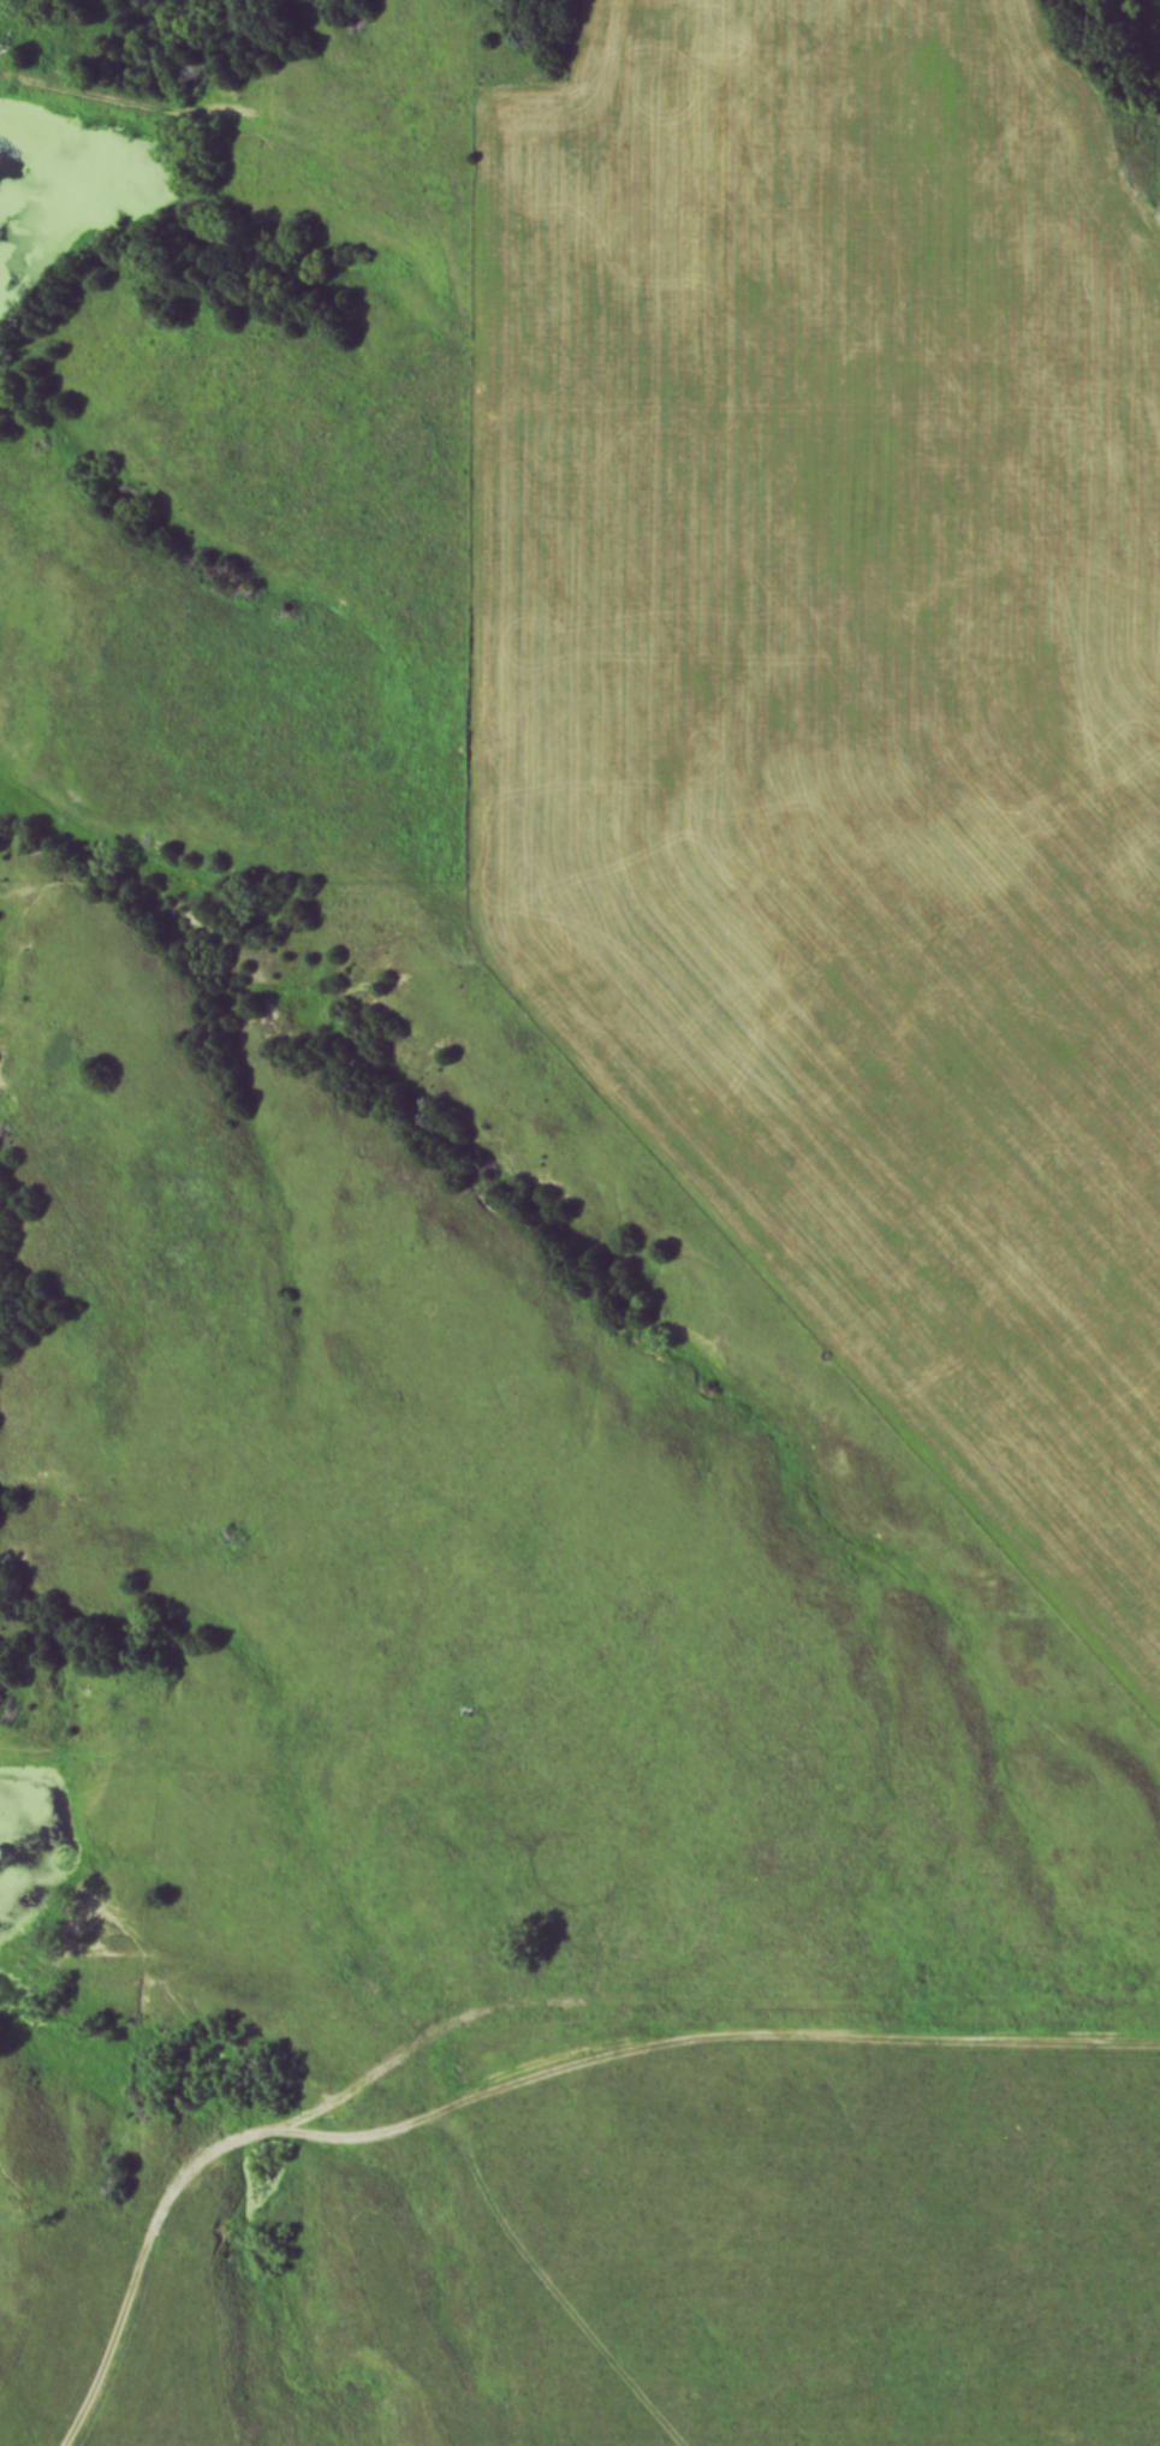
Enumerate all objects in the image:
road: (504, 2011)

